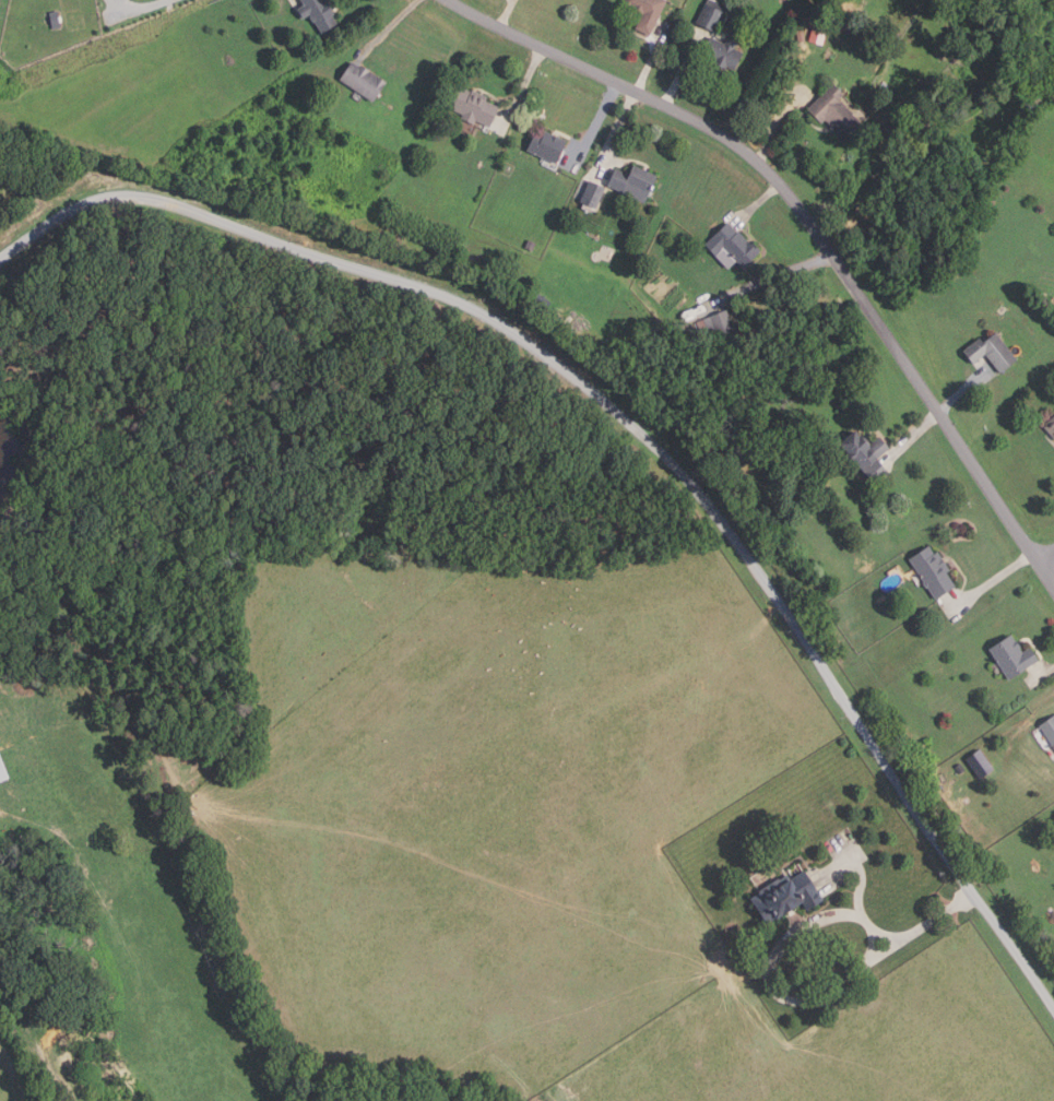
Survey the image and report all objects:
road: (141, 7)
road: (504, 12)
building: (647, 12)
building: (319, 13)
building: (711, 14)
building: (55, 20)
road: (390, 27)
building: (802, 35)
building: (818, 35)
building: (724, 52)
road: (653, 57)
road: (684, 68)
building: (363, 80)
building: (927, 85)
road: (523, 87)
building: (887, 87)
building: (473, 106)
building: (836, 111)
road: (774, 123)
road: (595, 125)
road: (618, 133)
building: (547, 145)
building: (633, 182)
building: (593, 193)
road: (758, 201)
road: (813, 224)
building: (734, 246)
road: (769, 277)
building: (723, 323)
building: (992, 352)
road: (962, 388)
building: (1051, 426)
road: (633, 430)
road: (912, 436)
building: (741, 454)
building: (865, 454)
road: (1046, 556)
building: (934, 571)
road: (991, 581)
building: (1012, 656)
road: (1041, 674)
building: (1049, 730)
building: (4, 768)
building: (960, 768)
building: (786, 897)
road: (793, 998)

